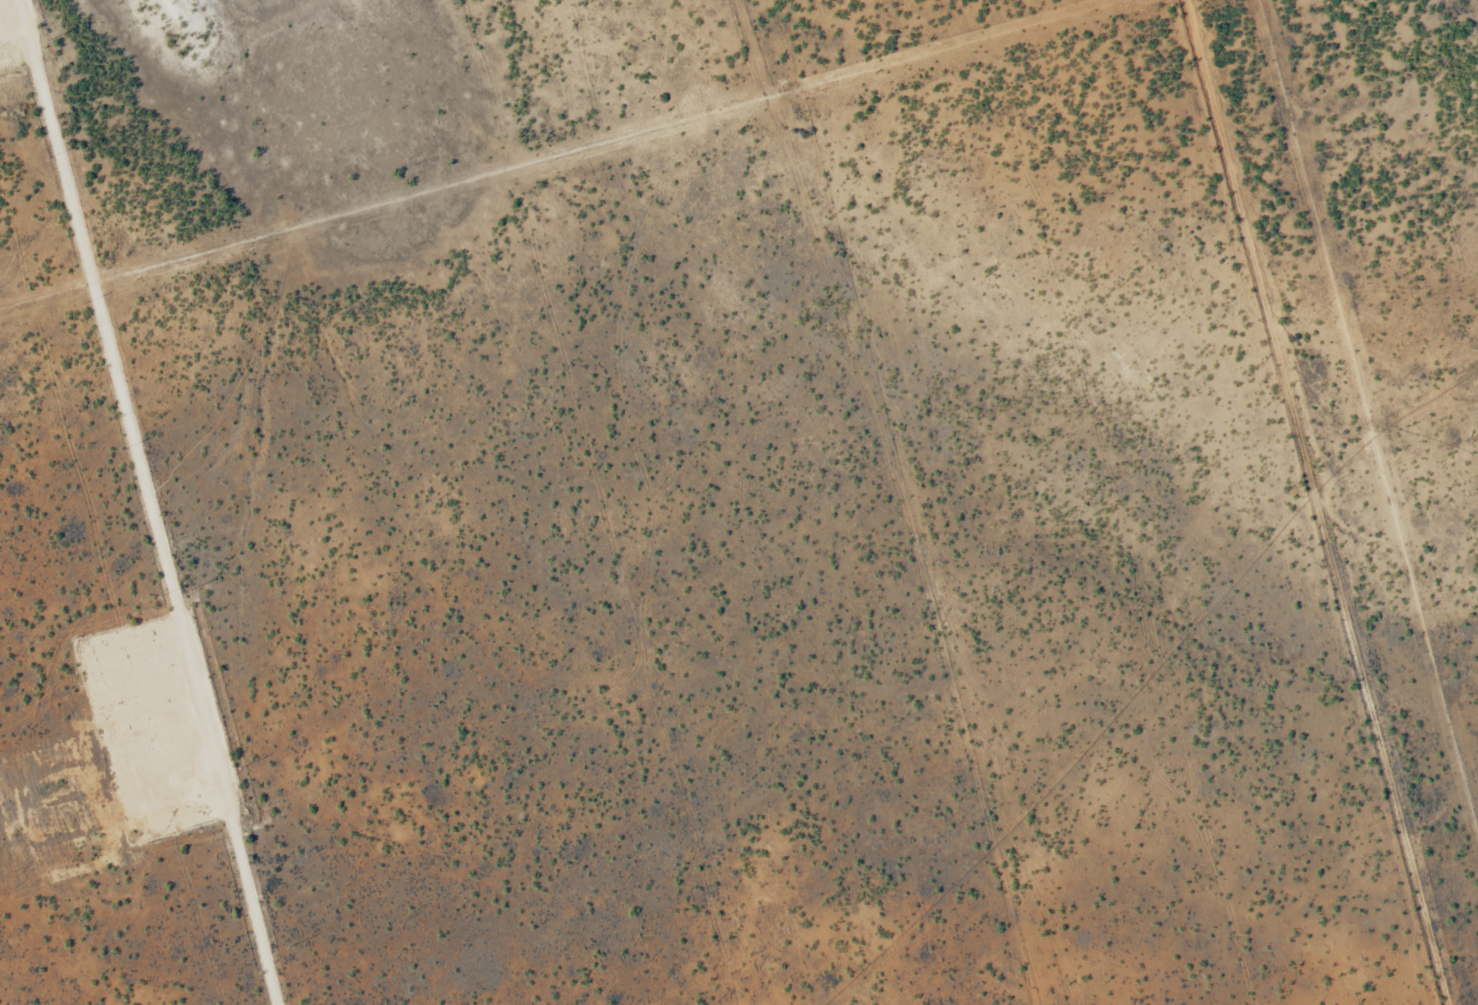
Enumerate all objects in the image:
road: (84, 376)

